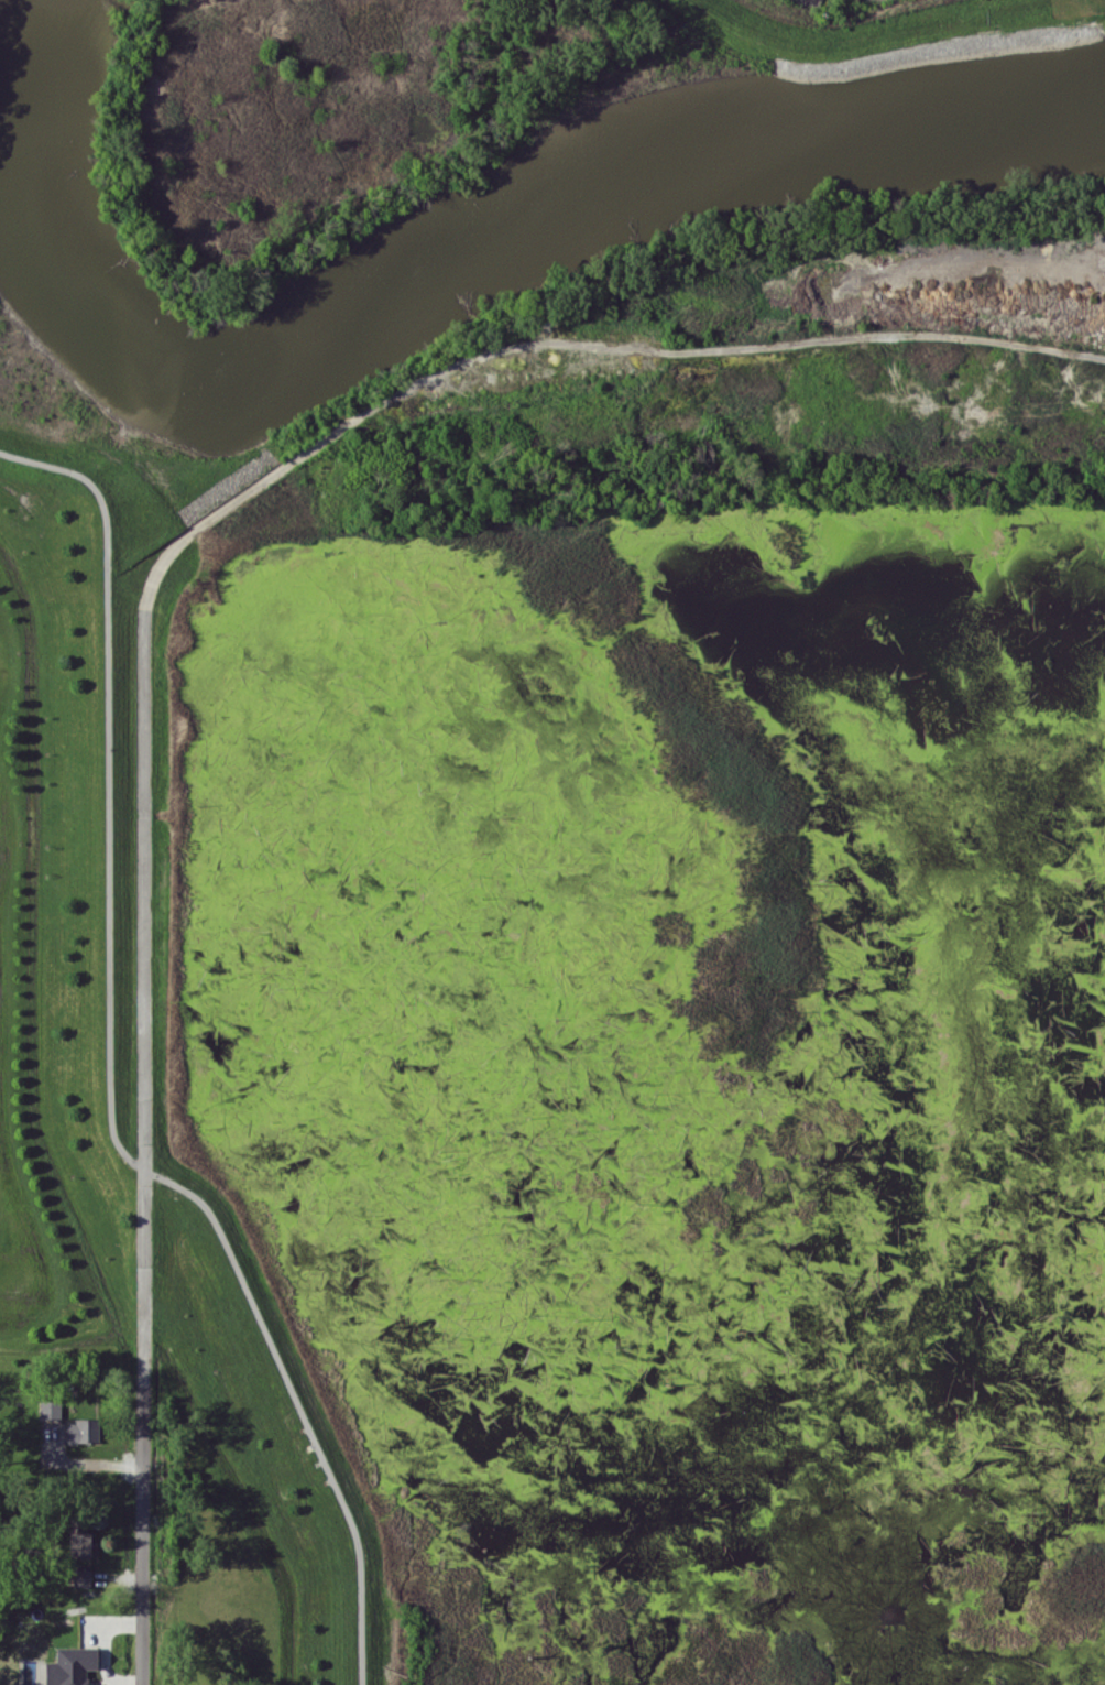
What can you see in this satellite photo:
road: (1016, 268)
river: (412, 283)
road: (1066, 311)
road: (727, 345)
park: (33, 449)
road: (143, 998)
road: (108, 1074)
building: (50, 1409)
building: (81, 1431)
building: (79, 1539)
building: (81, 1577)
building: (70, 1665)

